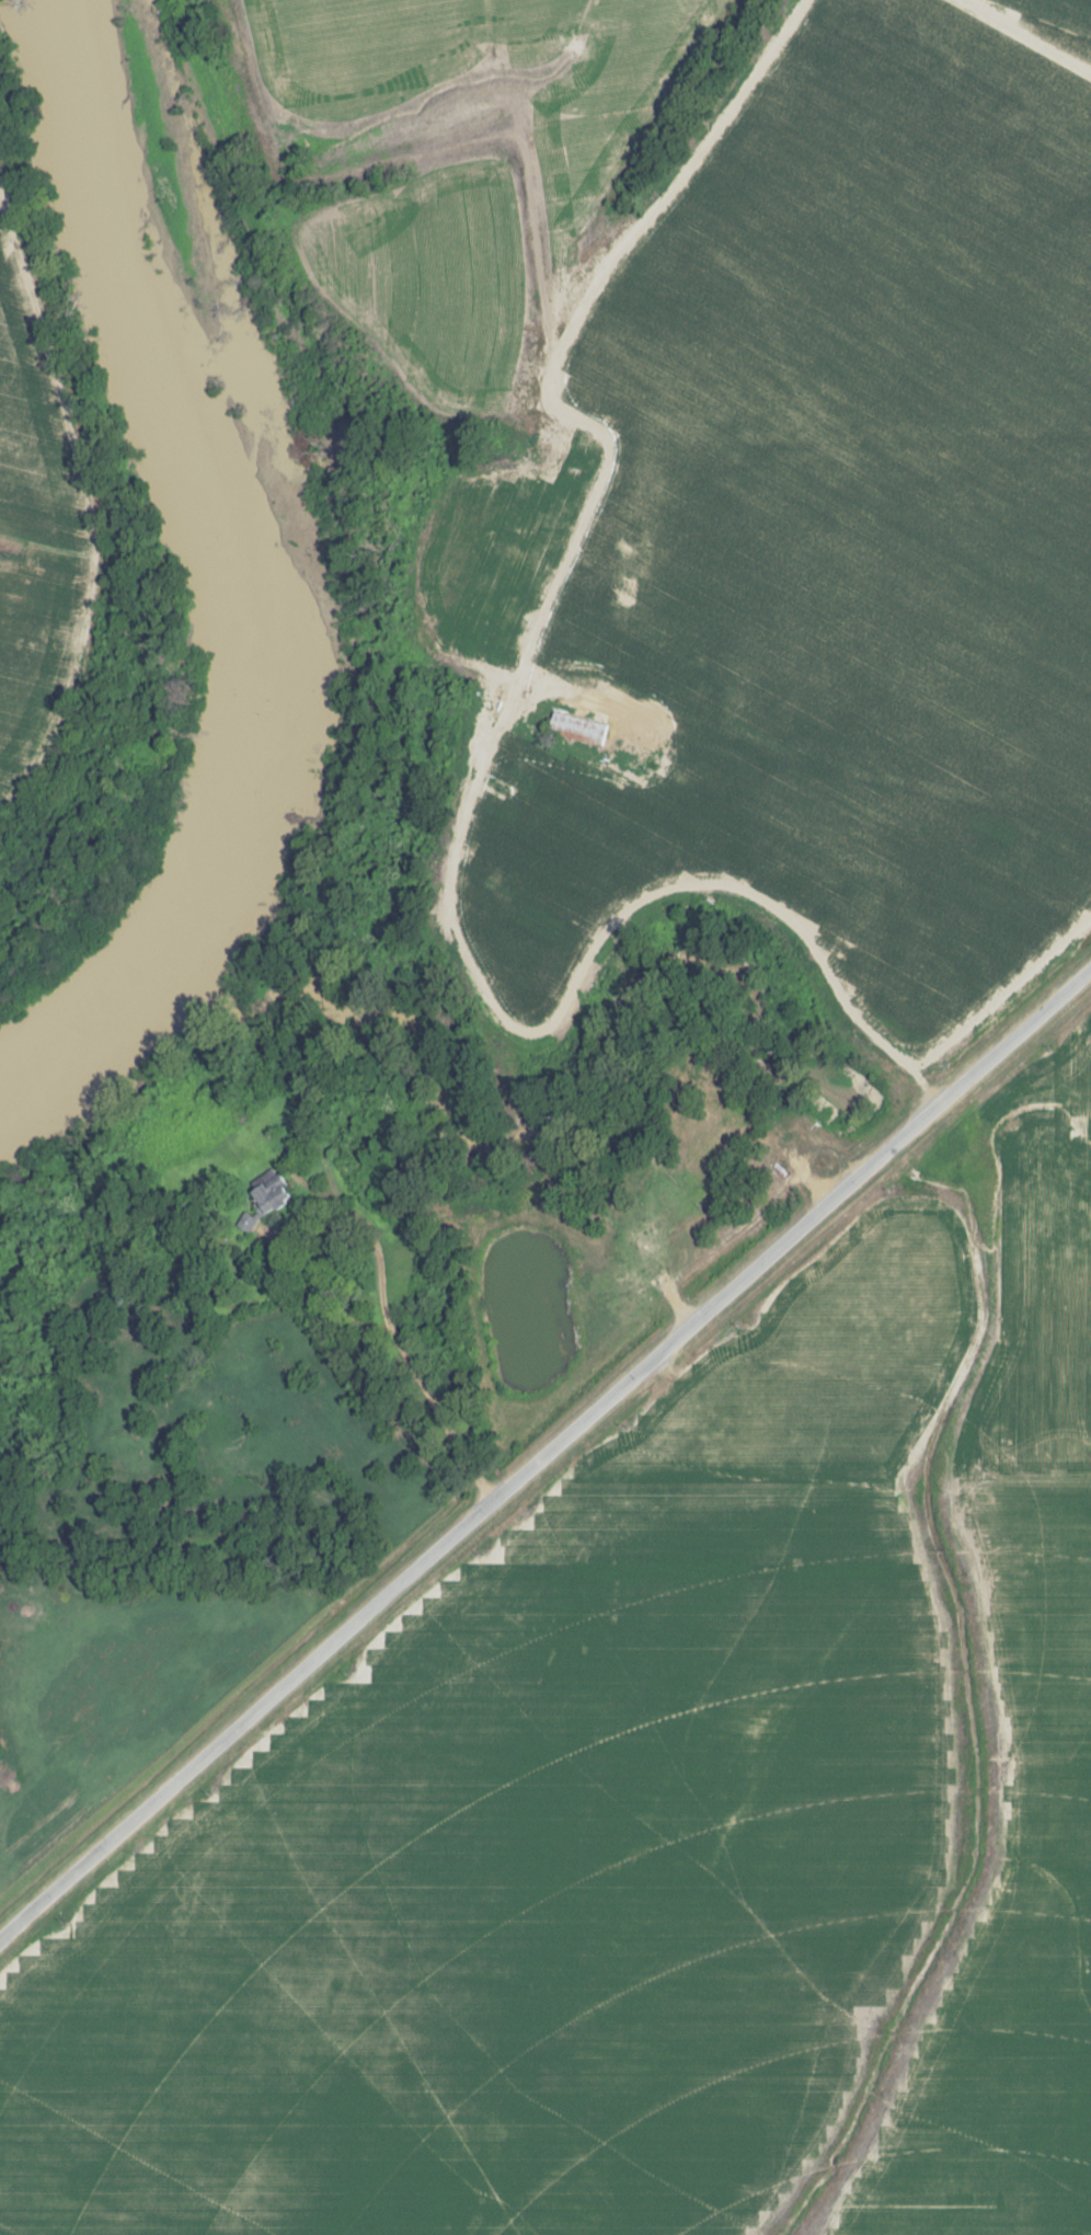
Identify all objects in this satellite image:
building: (954, 585)
river: (248, 591)
road: (619, 683)
building: (576, 727)
road: (674, 875)
building: (647, 1237)
road: (387, 1318)
road: (547, 1444)

